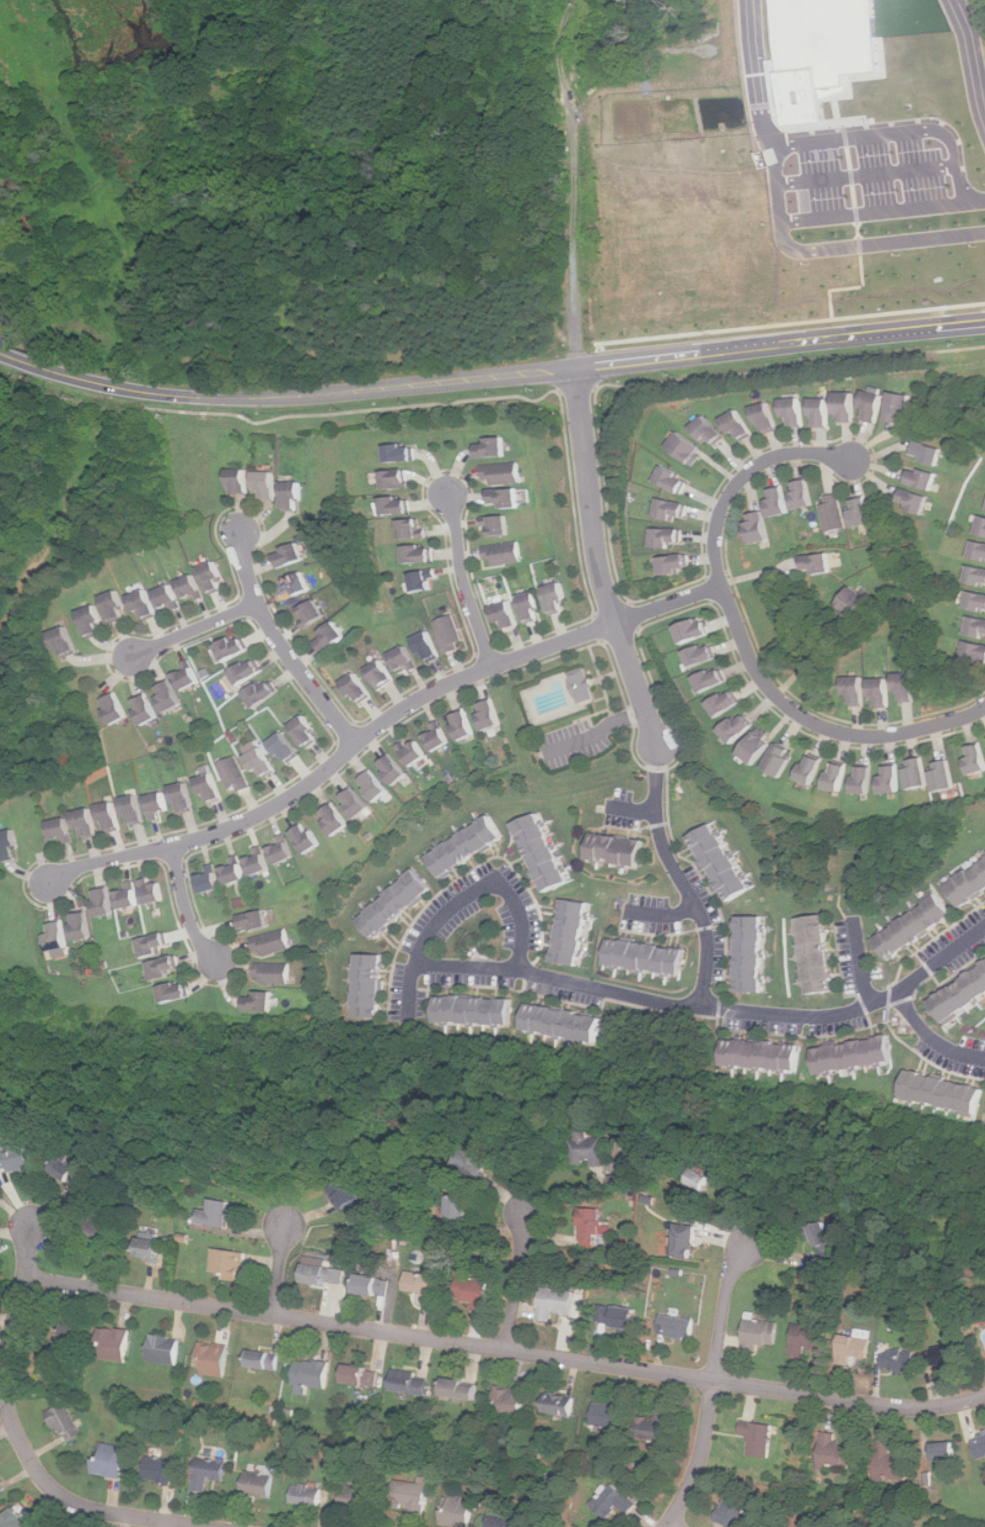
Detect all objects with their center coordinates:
building: (628, 3)
road: (961, 18)
building: (822, 51)
road: (760, 69)
road: (976, 70)
road: (898, 126)
road: (869, 175)
road: (572, 180)
road: (882, 211)
road: (830, 249)
road: (2, 353)
road: (22, 360)
road: (511, 371)
building: (873, 405)
building: (847, 406)
building: (900, 407)
building: (793, 411)
building: (823, 412)
building: (768, 417)
building: (741, 426)
building: (711, 431)
building: (688, 447)
building: (492, 448)
building: (929, 452)
building: (404, 453)
building: (501, 474)
building: (923, 478)
building: (399, 479)
building: (674, 479)
building: (243, 481)
building: (269, 484)
building: (799, 494)
building: (294, 496)
building: (504, 497)
building: (774, 500)
building: (916, 500)
building: (398, 505)
building: (672, 509)
building: (861, 512)
building: (833, 513)
building: (499, 526)
building: (981, 526)
building: (758, 527)
building: (411, 529)
building: (668, 537)
building: (979, 549)
building: (419, 554)
building: (502, 554)
building: (288, 557)
road: (598, 561)
building: (676, 563)
building: (817, 563)
building: (976, 575)
building: (210, 577)
building: (423, 581)
road: (463, 583)
building: (296, 585)
building: (189, 587)
building: (165, 596)
building: (553, 597)
building: (976, 600)
building: (855, 601)
building: (142, 604)
building: (114, 606)
building: (527, 607)
building: (310, 613)
building: (503, 614)
building: (90, 621)
building: (975, 627)
road: (192, 629)
building: (694, 630)
building: (450, 634)
building: (328, 637)
road: (741, 639)
building: (63, 642)
building: (426, 646)
building: (231, 648)
road: (281, 648)
road: (733, 652)
building: (973, 653)
building: (703, 655)
building: (403, 659)
road: (807, 661)
building: (246, 672)
building: (380, 674)
building: (186, 678)
building: (713, 679)
building: (581, 685)
building: (902, 685)
building: (356, 688)
building: (853, 689)
building: (878, 690)
building: (260, 694)
building: (168, 696)
building: (727, 703)
building: (117, 708)
building: (146, 709)
building: (492, 714)
building: (463, 725)
road: (378, 726)
building: (740, 728)
building: (306, 732)
road: (598, 733)
building: (438, 736)
building: (285, 748)
building: (758, 748)
building: (415, 752)
building: (974, 758)
building: (782, 760)
building: (263, 764)
building: (394, 769)
building: (813, 769)
building: (920, 773)
building: (235, 774)
building: (839, 776)
building: (946, 776)
building: (893, 779)
building: (866, 780)
building: (375, 785)
building: (212, 789)
building: (185, 798)
building: (356, 803)
building: (158, 804)
road: (633, 810)
building: (134, 811)
building: (111, 817)
building: (336, 819)
building: (85, 824)
building: (60, 829)
building: (308, 837)
building: (11, 845)
building: (469, 846)
building: (284, 849)
building: (620, 849)
building: (543, 852)
building: (259, 861)
building: (720, 862)
building: (236, 870)
building: (210, 880)
road: (681, 880)
building: (968, 882)
building: (153, 891)
building: (129, 896)
road: (462, 898)
building: (106, 901)
building: (397, 903)
road: (186, 908)
road: (662, 913)
building: (271, 916)
building: (254, 920)
building: (85, 926)
building: (913, 926)
building: (574, 931)
building: (61, 936)
building: (273, 943)
building: (157, 944)
building: (752, 953)
building: (820, 953)
building: (649, 956)
road: (862, 961)
building: (168, 967)
building: (275, 973)
road: (559, 977)
building: (372, 985)
building: (179, 992)
building: (962, 995)
building: (263, 1002)
building: (478, 1010)
road: (854, 1011)
building: (567, 1023)
road: (931, 1040)
building: (765, 1054)
building: (858, 1055)
building: (942, 1093)
building: (591, 1149)
building: (18, 1156)
building: (474, 1161)
building: (73, 1174)
building: (701, 1179)
building: (347, 1194)
building: (461, 1209)
building: (215, 1213)
building: (592, 1222)
building: (100, 1235)
building: (686, 1241)
building: (824, 1242)
building: (151, 1248)
building: (339, 1261)
building: (229, 1263)
road: (278, 1270)
building: (324, 1275)
road: (515, 1282)
building: (373, 1285)
building: (424, 1286)
building: (474, 1292)
building: (556, 1303)
building: (618, 1316)
building: (678, 1327)
building: (760, 1333)
building: (72, 1334)
building: (983, 1338)
building: (808, 1340)
building: (116, 1344)
building: (857, 1346)
building: (165, 1349)
road: (504, 1349)
building: (949, 1355)
building: (214, 1358)
building: (264, 1359)
building: (900, 1360)
building: (311, 1375)
building: (361, 1375)
building: (411, 1382)
road: (711, 1387)
building: (461, 1389)
building: (511, 1402)
building: (560, 1404)
building: (609, 1415)
building: (66, 1423)
building: (658, 1428)
road: (18, 1438)
building: (758, 1438)
building: (980, 1445)
building: (946, 1451)
building: (836, 1453)
building: (113, 1461)
building: (893, 1463)
building: (161, 1470)
building: (210, 1472)
building: (261, 1485)
building: (1, 1488)
building: (308, 1495)
building: (411, 1498)
building: (360, 1500)
building: (615, 1502)
building: (735, 1509)
building: (459, 1511)
building: (17, 1519)
building: (505, 1521)
road: (673, 1524)

